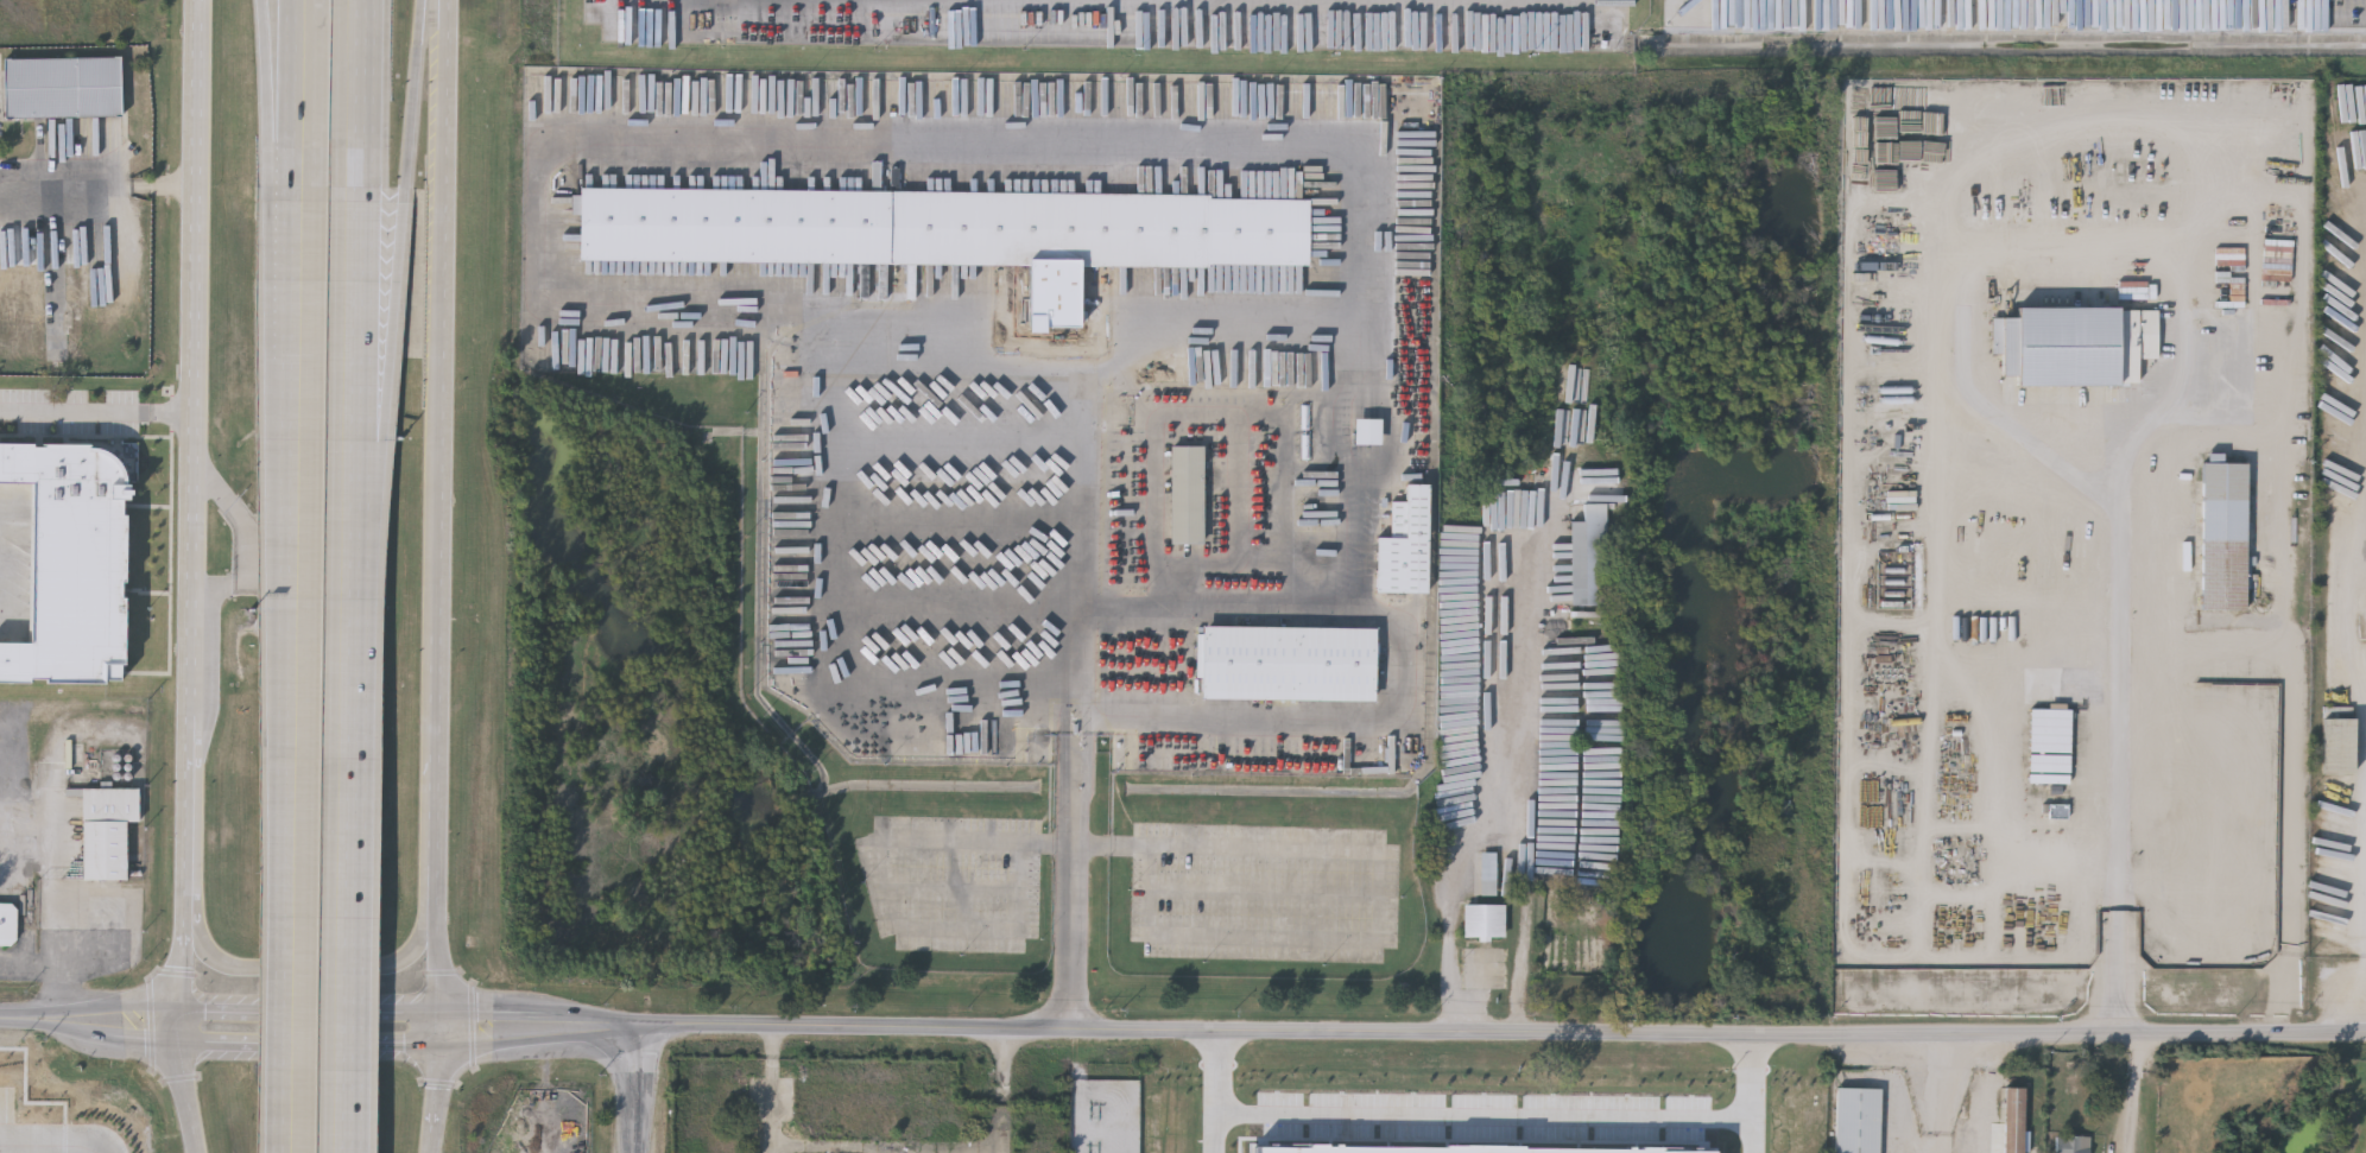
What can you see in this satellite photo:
building: (932, 21)
building: (64, 88)
road: (354, 94)
road: (417, 95)
road: (274, 104)
road: (299, 104)
building: (1865, 134)
road: (840, 141)
road: (99, 171)
building: (950, 234)
road: (298, 284)
road: (438, 318)
building: (56, 334)
building: (2075, 342)
road: (196, 361)
road: (358, 374)
road: (394, 376)
road: (97, 412)
building: (1368, 429)
building: (1188, 493)
building: (2223, 536)
building: (1406, 544)
building: (70, 558)
building: (1589, 559)
building: (1970, 581)
road: (1347, 602)
road: (829, 622)
building: (1290, 661)
road: (2118, 671)
building: (2069, 693)
road: (1074, 698)
building: (2223, 707)
road: (1311, 721)
building: (2339, 743)
road: (2302, 748)
road: (301, 755)
road: (437, 761)
road: (1517, 791)
road: (190, 818)
building: (105, 829)
road: (355, 856)
building: (2181, 873)
road: (894, 892)
building: (2235, 893)
road: (1383, 899)
road: (56, 920)
building: (7, 923)
building: (1484, 924)
road: (438, 965)
road: (324, 968)
road: (2119, 974)
road: (182, 977)
road: (635, 1025)
road: (1501, 1035)
road: (635, 1089)
road: (2134, 1095)
road: (1944, 1096)
road: (185, 1097)
road: (438, 1100)
building: (2014, 1121)
building: (1858, 1122)
road: (1493, 1125)
road: (1226, 1138)
road: (1763, 1140)
building: (1581, 1145)
building: (2073, 1146)

